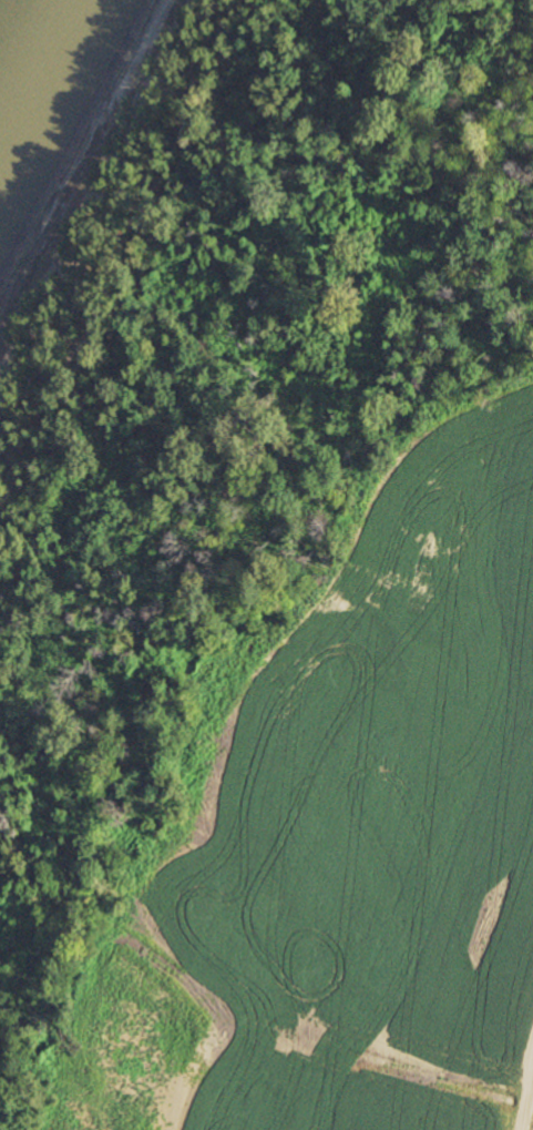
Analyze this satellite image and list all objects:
road: (526, 1109)

